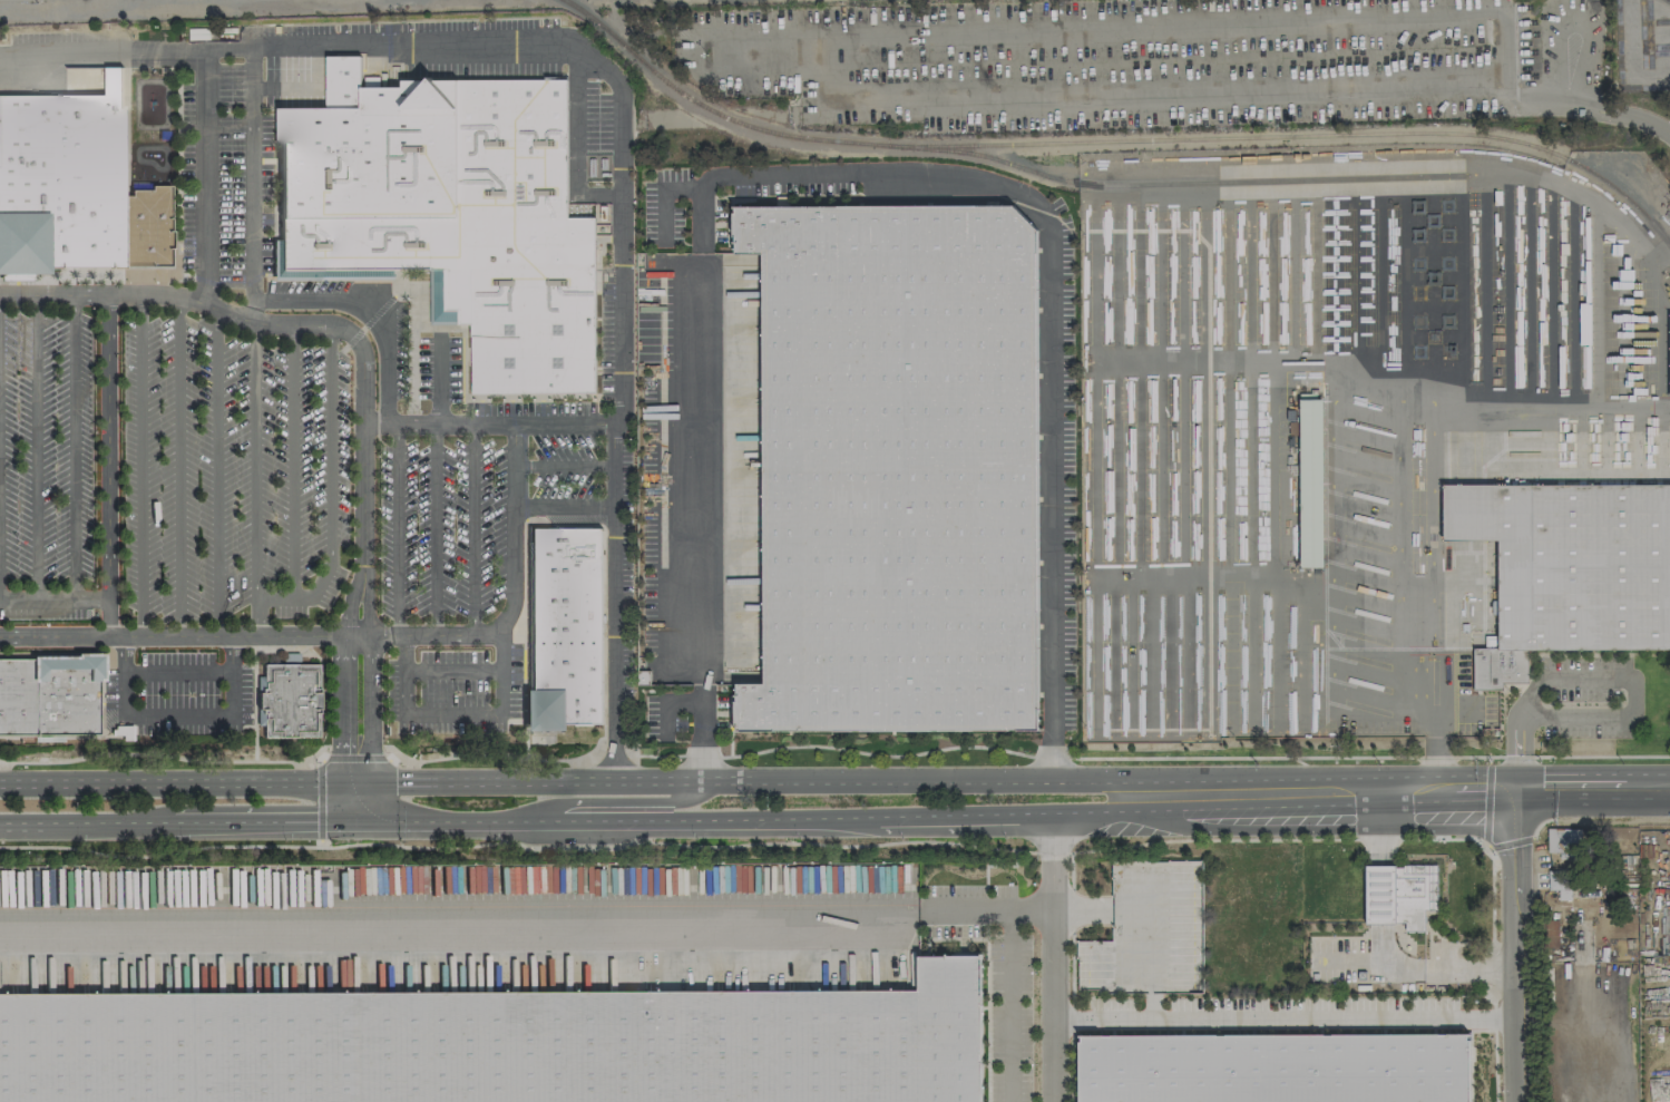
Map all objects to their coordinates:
railway: (1668, 0)
road: (744, 39)
road: (323, 46)
road: (1592, 101)
road: (577, 139)
railway: (1114, 140)
road: (208, 176)
road: (862, 176)
road: (254, 183)
railway: (1173, 183)
building: (74, 185)
building: (448, 214)
road: (365, 311)
road: (441, 379)
building: (1669, 390)
road: (363, 398)
road: (491, 422)
road: (621, 438)
road: (36, 448)
road: (74, 448)
road: (254, 458)
road: (292, 460)
road: (329, 464)
road: (566, 465)
road: (107, 466)
road: (139, 467)
building: (895, 467)
parking lot: (167, 468)
road: (178, 468)
road: (217, 472)
building: (1310, 482)
road: (566, 504)
parking lot: (466, 514)
road: (397, 529)
road: (434, 529)
road: (472, 529)
road: (512, 530)
building: (1554, 566)
road: (263, 598)
road: (53, 602)
building: (566, 627)
road: (252, 638)
road: (350, 661)
road: (177, 671)
parking lot: (455, 689)
parking lot: (194, 691)
building: (49, 694)
building: (287, 702)
road: (176, 714)
road: (1619, 714)
road: (453, 716)
road: (1436, 723)
road: (690, 779)
road: (1553, 783)
traffic signals: (1513, 784)
traffic signals: (364, 786)
road: (1409, 789)
road: (614, 802)
road: (690, 818)
traffic signals: (365, 821)
road: (1380, 827)
road: (1341, 832)
building: (1563, 842)
building: (1399, 894)
road: (524, 918)
building: (1551, 934)
road: (1512, 943)
road: (1048, 957)
road: (1376, 962)
road: (1468, 969)
road: (1008, 1006)
road: (1279, 1017)
building: (502, 1045)
building: (1275, 1067)

